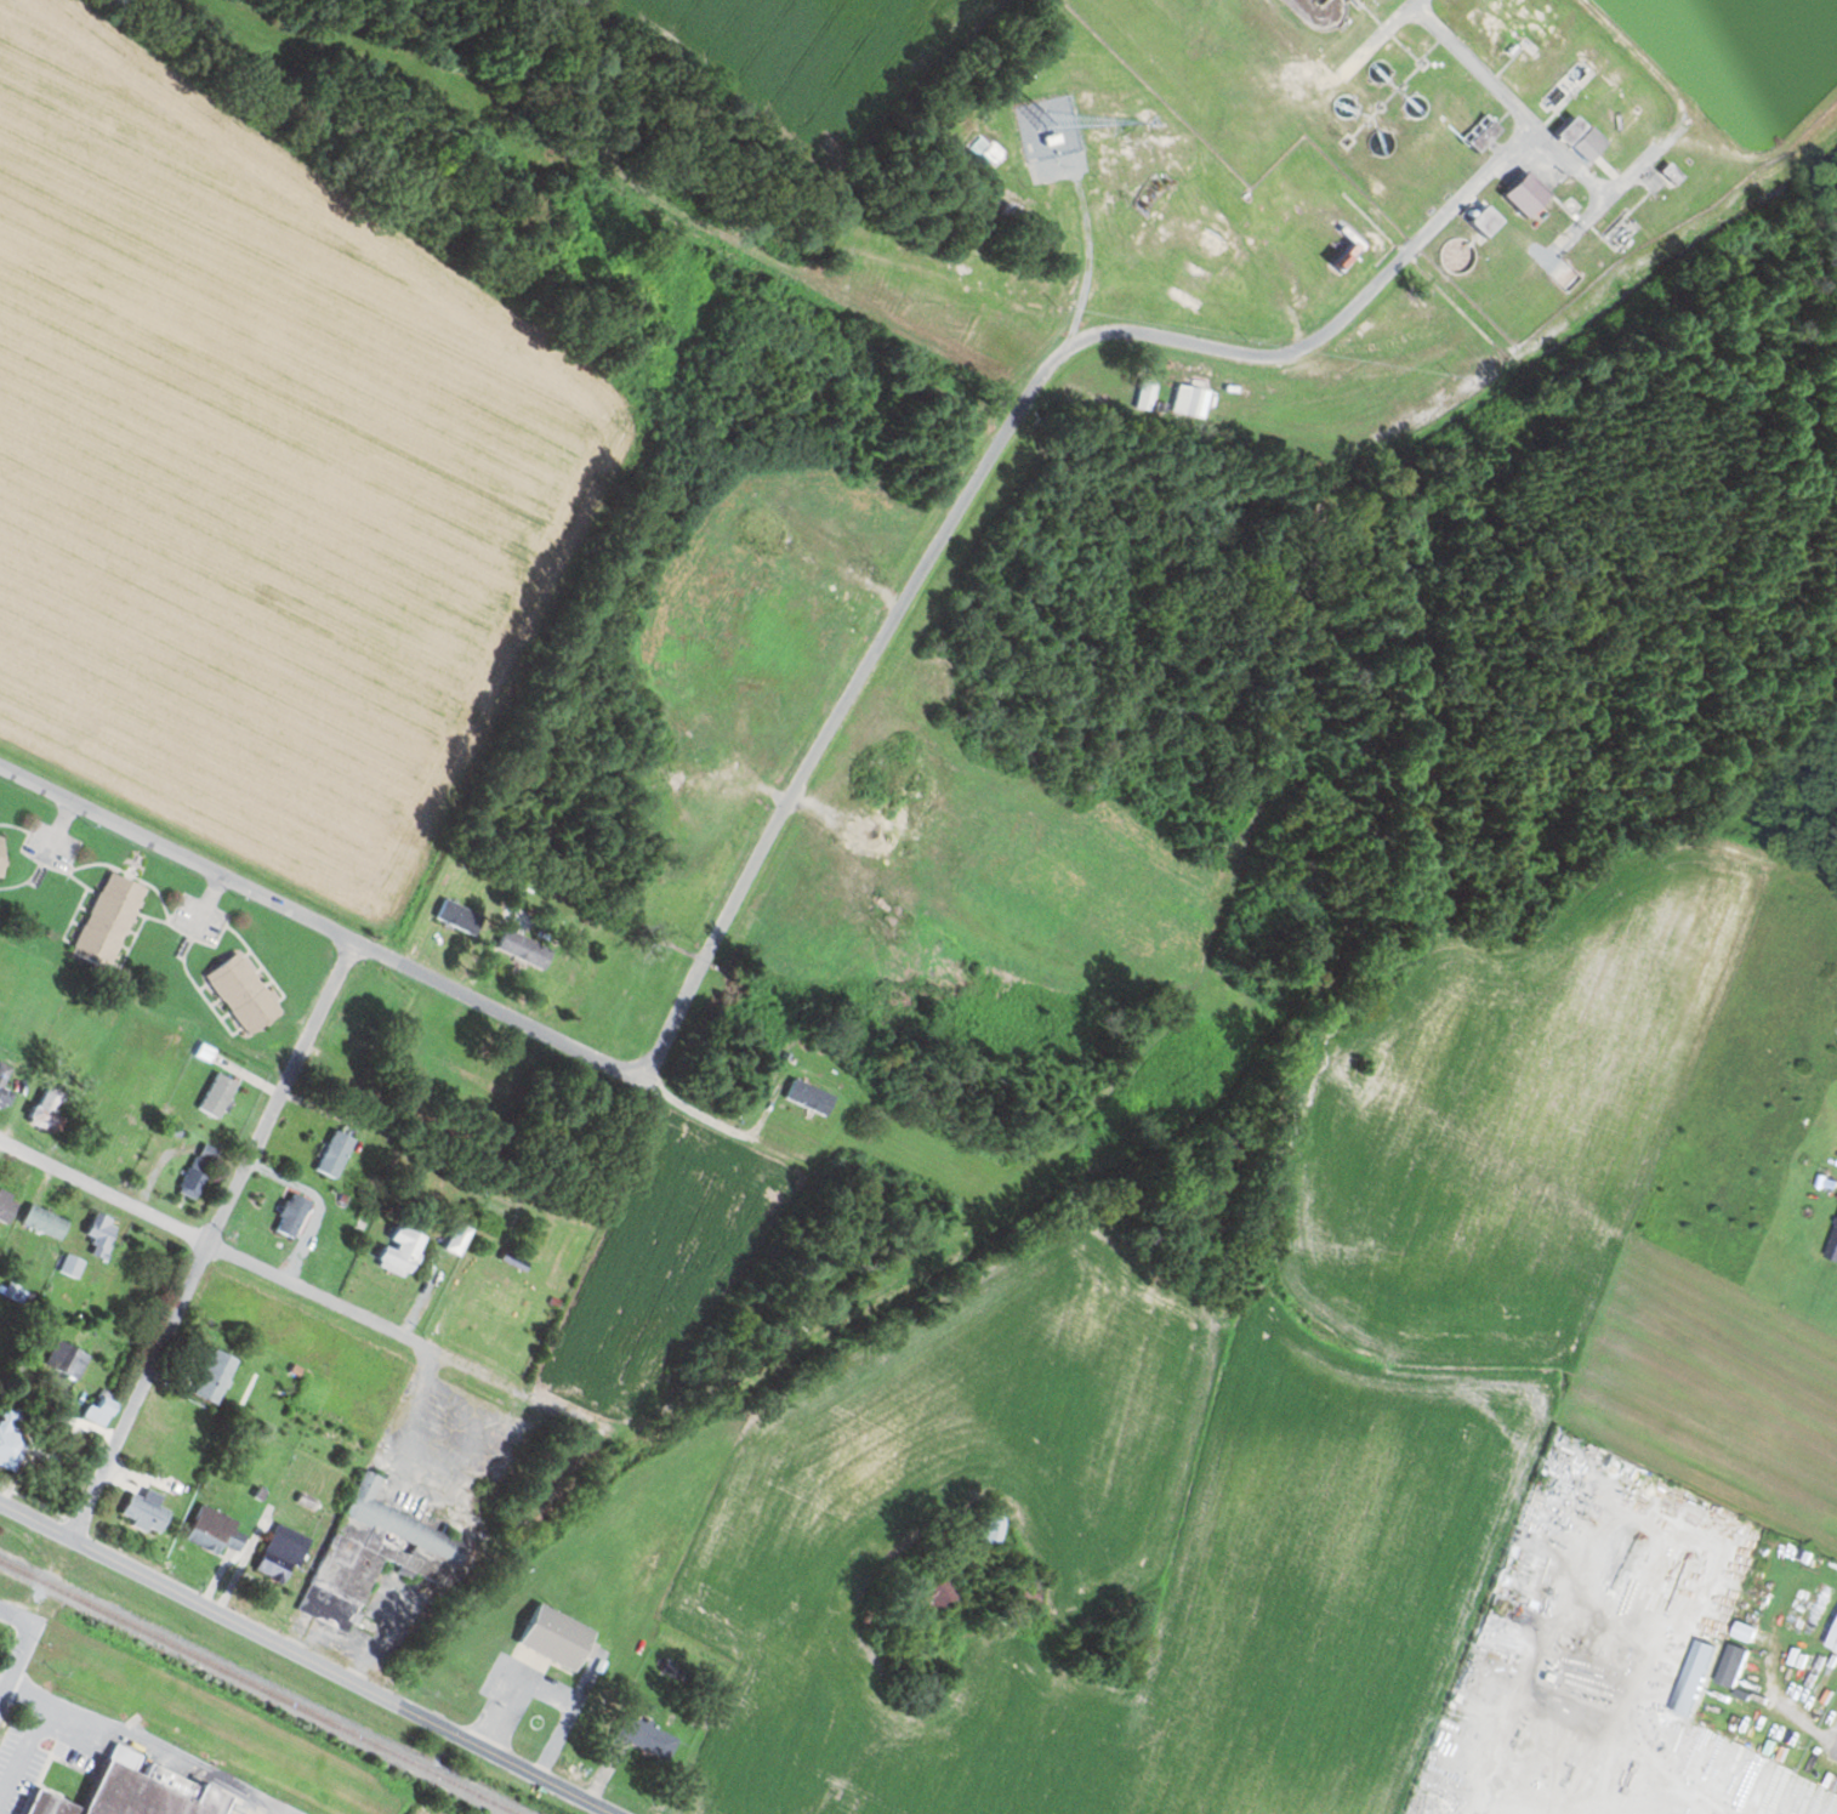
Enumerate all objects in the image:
wastewater plant: (1738, 61)
building: (1569, 130)
building: (1480, 132)
building: (1670, 172)
building: (1525, 193)
building: (1485, 220)
building: (1147, 392)
building: (1188, 399)
road: (825, 737)
road: (632, 780)
building: (1, 855)
building: (459, 917)
building: (108, 920)
building: (523, 949)
building: (559, 991)
building: (243, 993)
road: (491, 1007)
building: (2, 1077)
building: (217, 1094)
building: (808, 1097)
building: (45, 1109)
building: (335, 1154)
building: (195, 1177)
building: (6, 1207)
building: (291, 1215)
building: (44, 1222)
building: (99, 1233)
building: (457, 1238)
road: (211, 1239)
building: (1833, 1247)
building: (400, 1251)
road: (318, 1297)
building: (501, 1300)
building: (66, 1359)
building: (215, 1376)
building: (99, 1410)
building: (10, 1439)
building: (144, 1511)
building: (991, 1528)
building: (214, 1530)
building: (281, 1553)
building: (372, 1554)
building: (934, 1596)
building: (1026, 1598)
road: (16, 1616)
road: (239, 1617)
building: (556, 1637)
building: (1833, 1642)
road: (16, 1657)
building: (1734, 1664)
building: (1694, 1677)
railway: (260, 1685)
building: (644, 1735)
road: (556, 1773)
building: (148, 1789)
building: (49, 1803)

